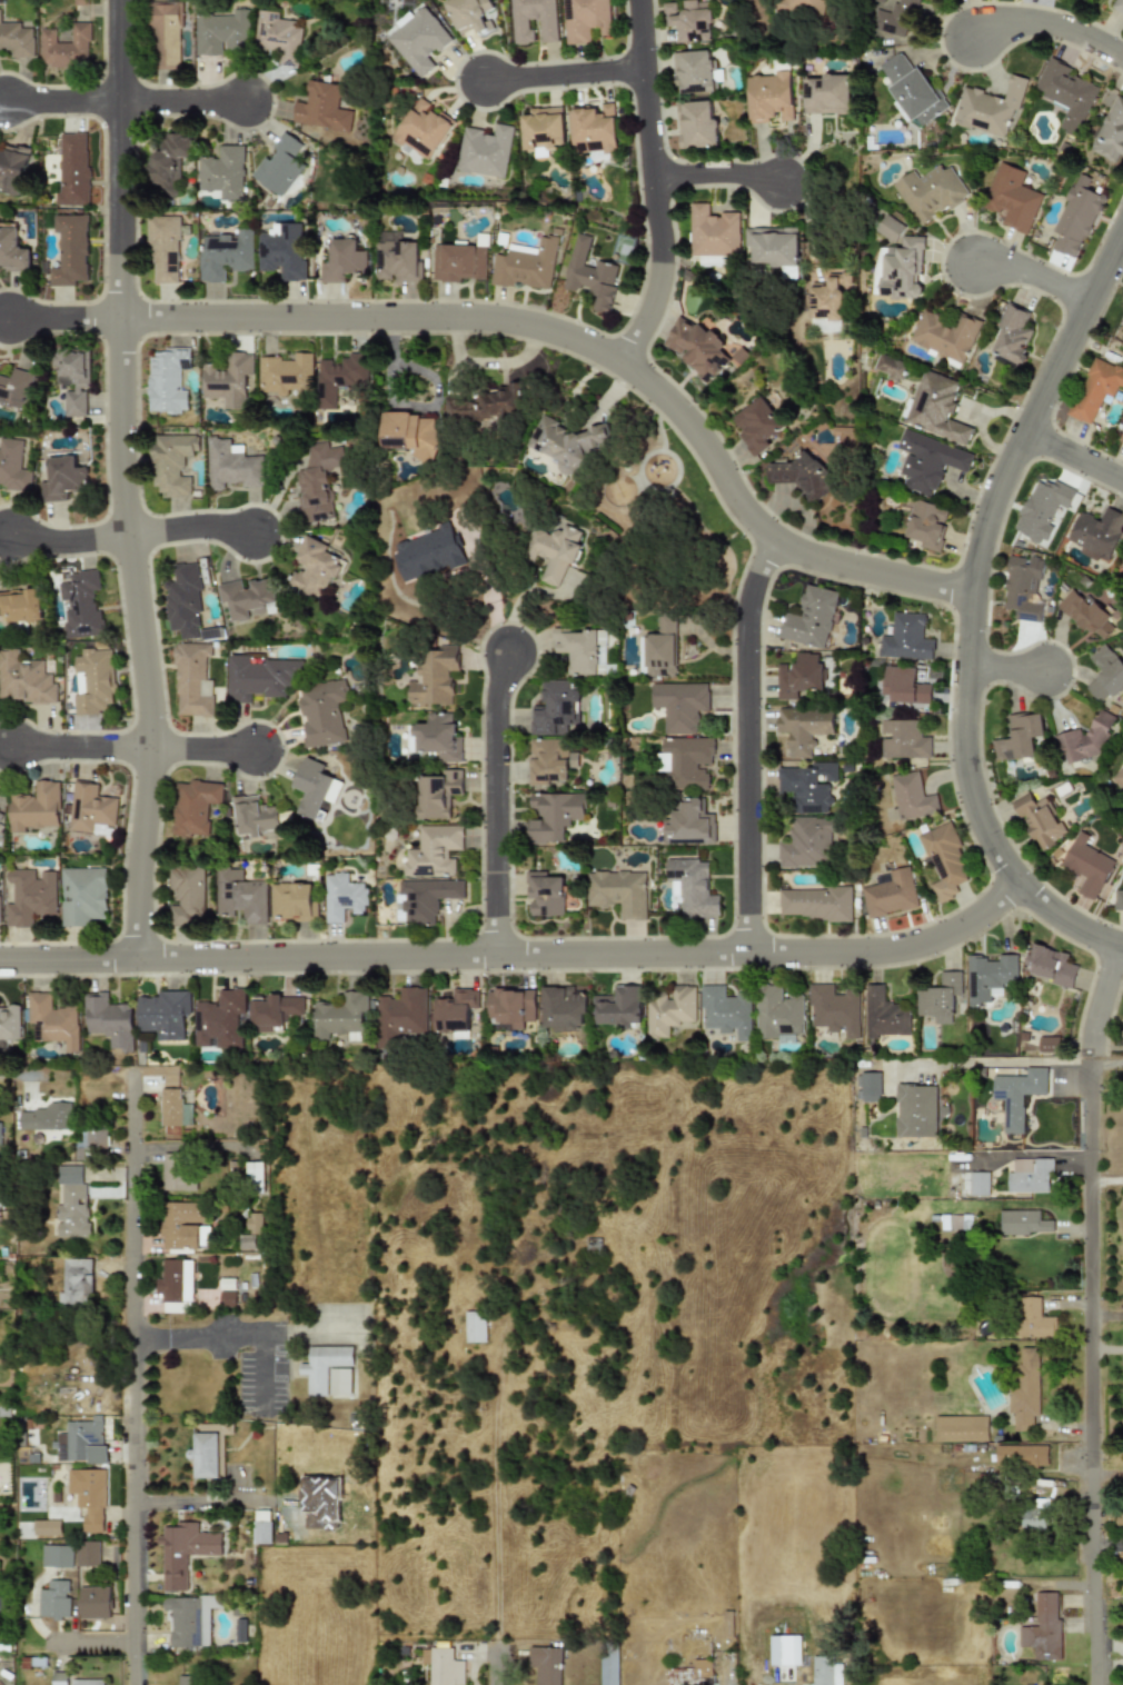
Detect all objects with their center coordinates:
building: (879, 1)
building: (910, 3)
building: (1117, 6)
building: (811, 8)
building: (473, 16)
building: (585, 19)
building: (690, 19)
building: (894, 20)
building: (548, 24)
road: (1052, 27)
building: (221, 32)
building: (165, 34)
building: (16, 40)
building: (419, 40)
building: (63, 47)
building: (695, 72)
road: (567, 74)
building: (913, 89)
building: (1066, 93)
building: (827, 94)
building: (769, 97)
road: (66, 101)
road: (185, 101)
building: (324, 108)
building: (990, 108)
building: (697, 124)
building: (544, 128)
building: (594, 128)
building: (424, 129)
building: (1111, 131)
building: (486, 150)
building: (169, 163)
building: (281, 166)
building: (12, 169)
building: (71, 170)
road: (718, 170)
building: (223, 172)
road: (656, 183)
building: (930, 192)
building: (1011, 198)
building: (1075, 217)
road: (813, 221)
building: (890, 229)
building: (714, 235)
building: (774, 246)
building: (163, 249)
building: (70, 250)
building: (284, 250)
building: (12, 251)
building: (226, 255)
building: (398, 258)
building: (344, 261)
building: (460, 262)
building: (528, 265)
building: (898, 268)
road: (1034, 272)
building: (592, 276)
building: (829, 297)
building: (1122, 303)
building: (1122, 305)
road: (67, 318)
building: (1012, 335)
building: (944, 336)
road: (592, 346)
building: (697, 348)
building: (890, 368)
building: (286, 373)
building: (339, 377)
building: (72, 380)
building: (165, 380)
building: (227, 380)
building: (14, 388)
building: (1094, 389)
building: (495, 405)
building: (935, 407)
building: (757, 423)
building: (415, 435)
building: (1121, 438)
building: (568, 443)
road: (1075, 458)
building: (927, 461)
building: (170, 463)
building: (12, 465)
building: (232, 466)
building: (799, 476)
building: (61, 479)
road: (123, 479)
building: (320, 482)
building: (1041, 509)
building: (926, 525)
park: (666, 526)
road: (193, 529)
building: (1096, 534)
road: (70, 541)
building: (555, 551)
building: (429, 552)
building: (1122, 567)
building: (317, 569)
building: (1021, 588)
building: (248, 598)
building: (182, 601)
building: (80, 605)
building: (20, 606)
road: (970, 612)
building: (1086, 615)
building: (809, 618)
building: (905, 638)
road: (1007, 667)
building: (1105, 674)
building: (434, 676)
building: (799, 676)
building: (260, 678)
building: (24, 679)
building: (190, 679)
building: (93, 681)
building: (903, 686)
building: (206, 688)
building: (680, 705)
building: (555, 708)
building: (324, 712)
building: (804, 728)
building: (438, 737)
building: (1017, 737)
building: (1084, 738)
building: (902, 740)
road: (748, 742)
road: (85, 748)
road: (207, 749)
building: (546, 761)
building: (686, 761)
building: (1120, 777)
building: (808, 786)
building: (316, 787)
building: (438, 794)
building: (910, 796)
road: (498, 800)
building: (89, 807)
building: (193, 807)
building: (34, 808)
building: (255, 816)
building: (553, 816)
building: (0, 817)
building: (1038, 820)
building: (690, 824)
building: (806, 844)
building: (433, 851)
building: (943, 861)
building: (1086, 866)
building: (692, 888)
building: (187, 889)
building: (618, 891)
building: (544, 894)
building: (890, 895)
building: (81, 896)
building: (240, 896)
building: (30, 897)
building: (342, 897)
building: (423, 898)
building: (1117, 899)
building: (292, 900)
building: (814, 903)
road: (515, 950)
building: (1050, 965)
building: (987, 976)
road: (1096, 994)
building: (940, 997)
building: (509, 1007)
building: (618, 1007)
building: (561, 1008)
building: (454, 1010)
building: (668, 1010)
building: (834, 1010)
building: (274, 1011)
building: (725, 1013)
building: (777, 1013)
building: (162, 1014)
building: (884, 1014)
building: (400, 1015)
building: (340, 1016)
building: (52, 1020)
building: (108, 1020)
building: (219, 1020)
building: (8, 1026)
building: (1122, 1040)
building: (1046, 1044)
road: (1090, 1048)
road: (1106, 1059)
road: (995, 1061)
road: (31, 1077)
building: (869, 1087)
building: (1016, 1095)
building: (171, 1108)
building: (915, 1110)
building: (44, 1117)
building: (0, 1138)
building: (96, 1139)
building: (177, 1171)
building: (1028, 1175)
building: (254, 1177)
road: (1106, 1179)
building: (977, 1184)
building: (70, 1202)
building: (252, 1223)
building: (1023, 1223)
building: (180, 1226)
building: (246, 1242)
building: (175, 1280)
building: (74, 1283)
building: (227, 1298)
building: (1031, 1319)
building: (474, 1326)
road: (232, 1336)
building: (322, 1366)
road: (1093, 1373)
road: (136, 1376)
building: (339, 1382)
building: (1025, 1389)
building: (960, 1428)
building: (77, 1438)
building: (95, 1454)
building: (205, 1455)
building: (221, 1456)
building: (1021, 1456)
building: (88, 1496)
building: (1035, 1514)
building: (47, 1526)
building: (260, 1527)
road: (1110, 1544)
building: (183, 1552)
building: (87, 1554)
building: (54, 1555)
road: (497, 1581)
building: (52, 1599)
building: (93, 1602)
building: (189, 1619)
building: (1042, 1627)
road: (95, 1644)
building: (784, 1649)
building: (545, 1664)
building: (441, 1666)
building: (607, 1666)
road: (739, 1666)
building: (826, 1671)
building: (688, 1673)
building: (58, 1678)
building: (187, 1679)
building: (86, 1682)

